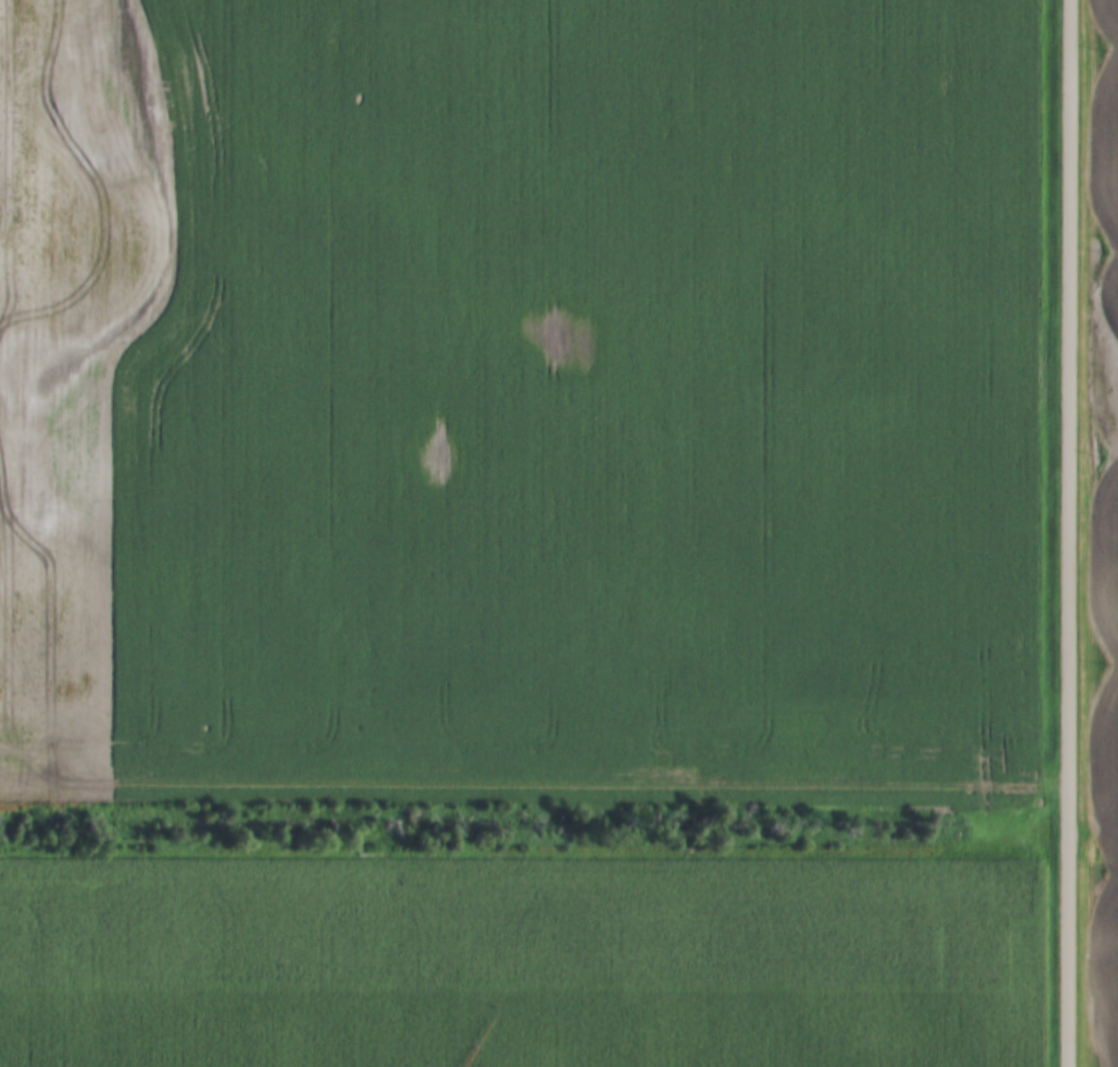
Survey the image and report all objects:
road: (1070, 533)

